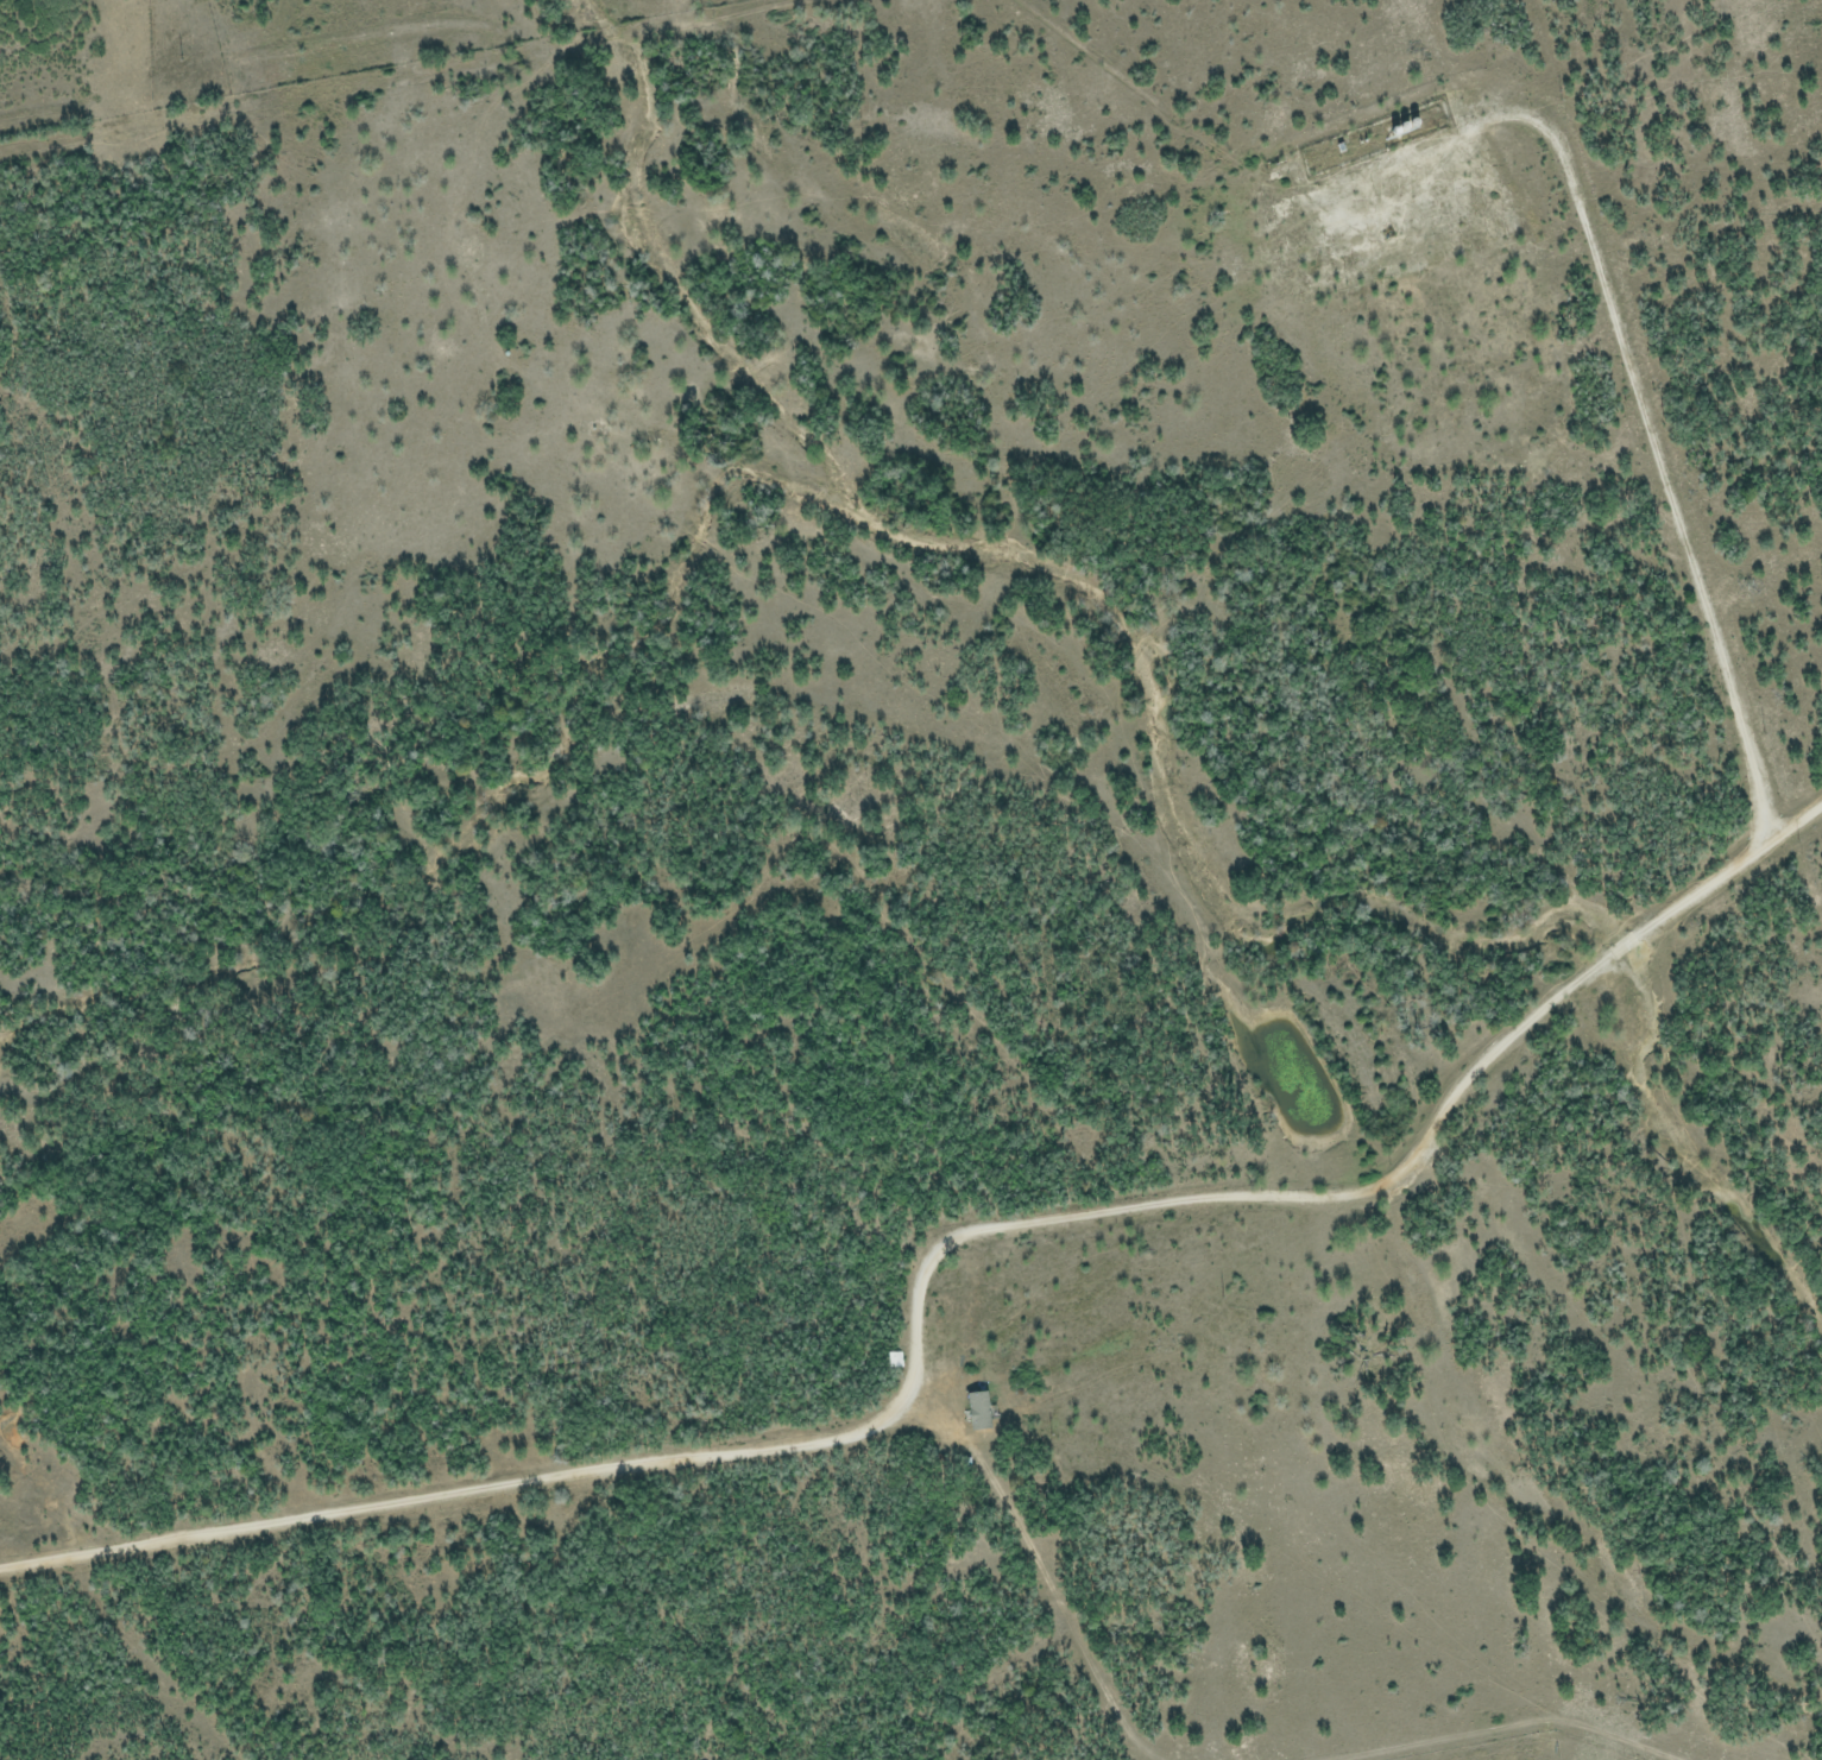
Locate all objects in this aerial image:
building: (979, 1409)

